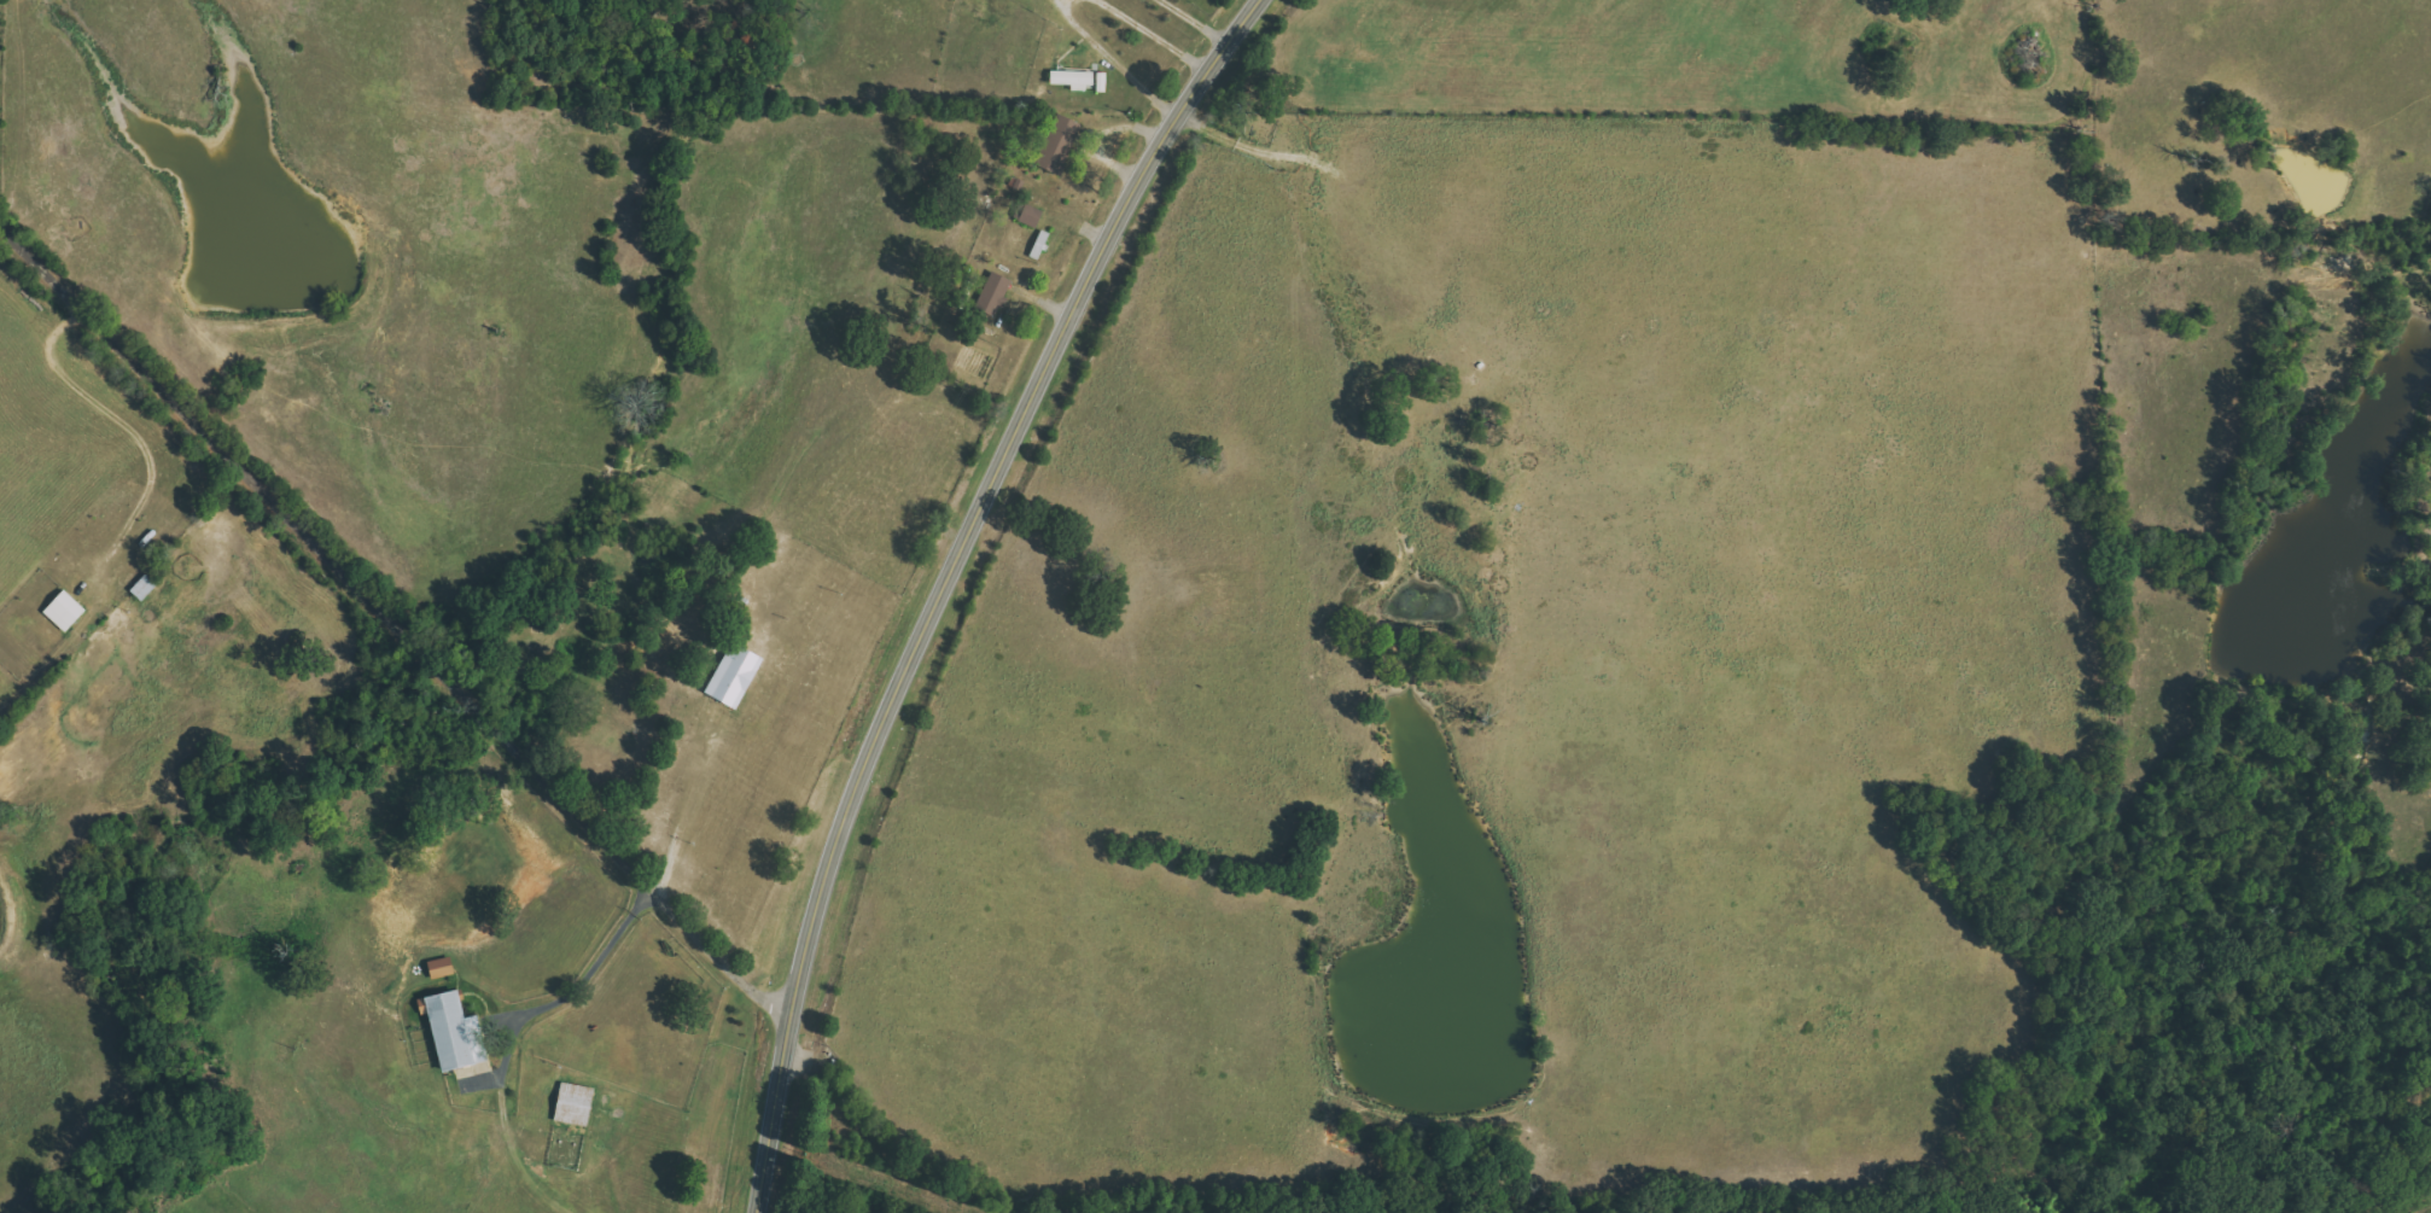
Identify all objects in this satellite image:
road: (1200, 21)
road: (1158, 34)
road: (1114, 59)
building: (1071, 77)
building: (1101, 81)
building: (1057, 144)
building: (1028, 215)
building: (1040, 244)
building: (992, 293)
road: (110, 412)
road: (948, 581)
building: (69, 611)
road: (393, 626)
building: (731, 675)
road: (674, 805)
road: (588, 963)
building: (438, 968)
building: (453, 1032)
building: (573, 1103)

